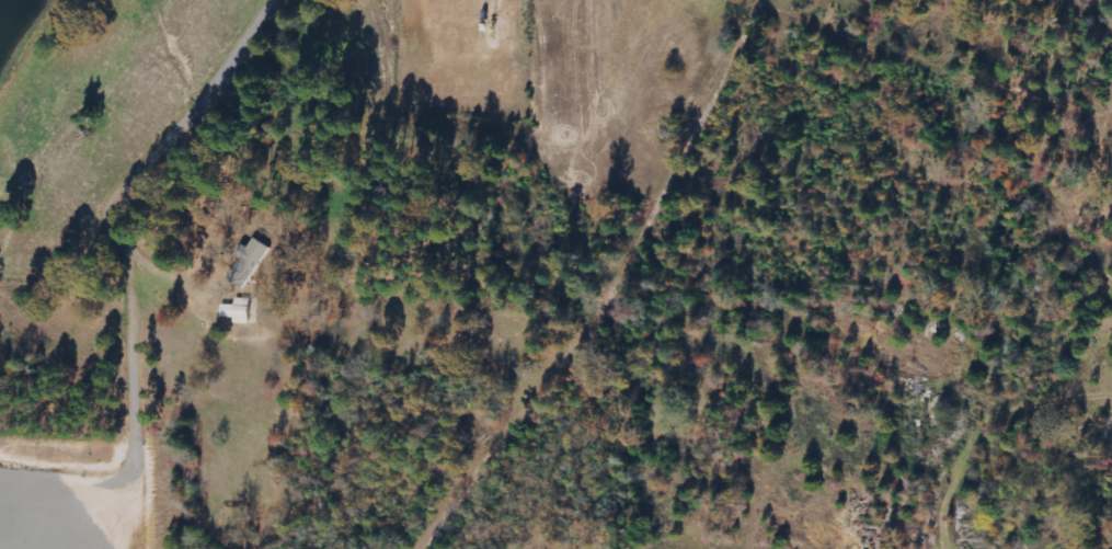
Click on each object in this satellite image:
building: (251, 262)
road: (656, 293)
building: (240, 311)

